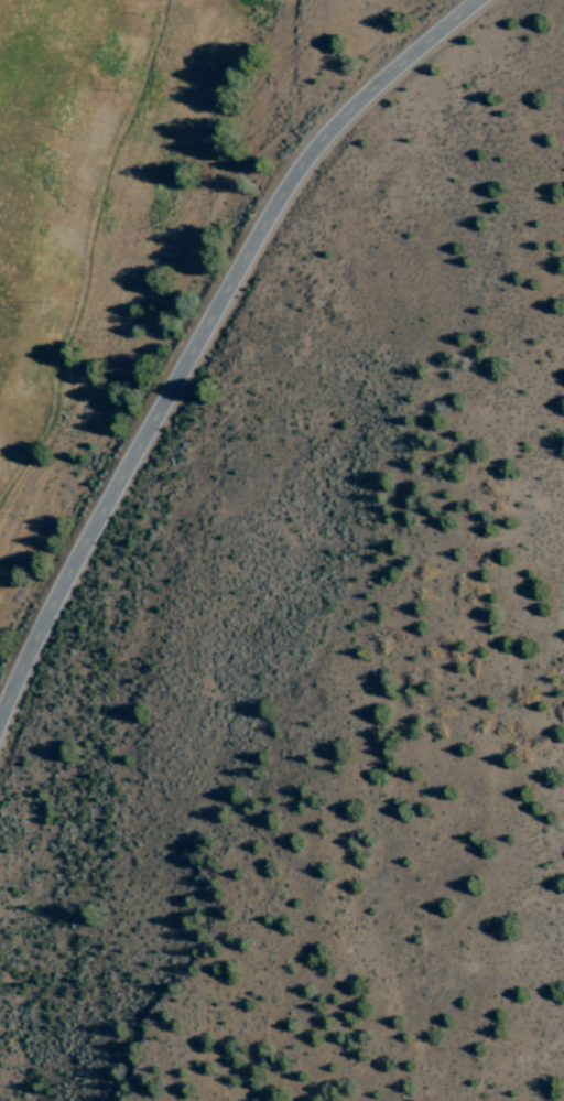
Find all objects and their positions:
road: (205, 337)

